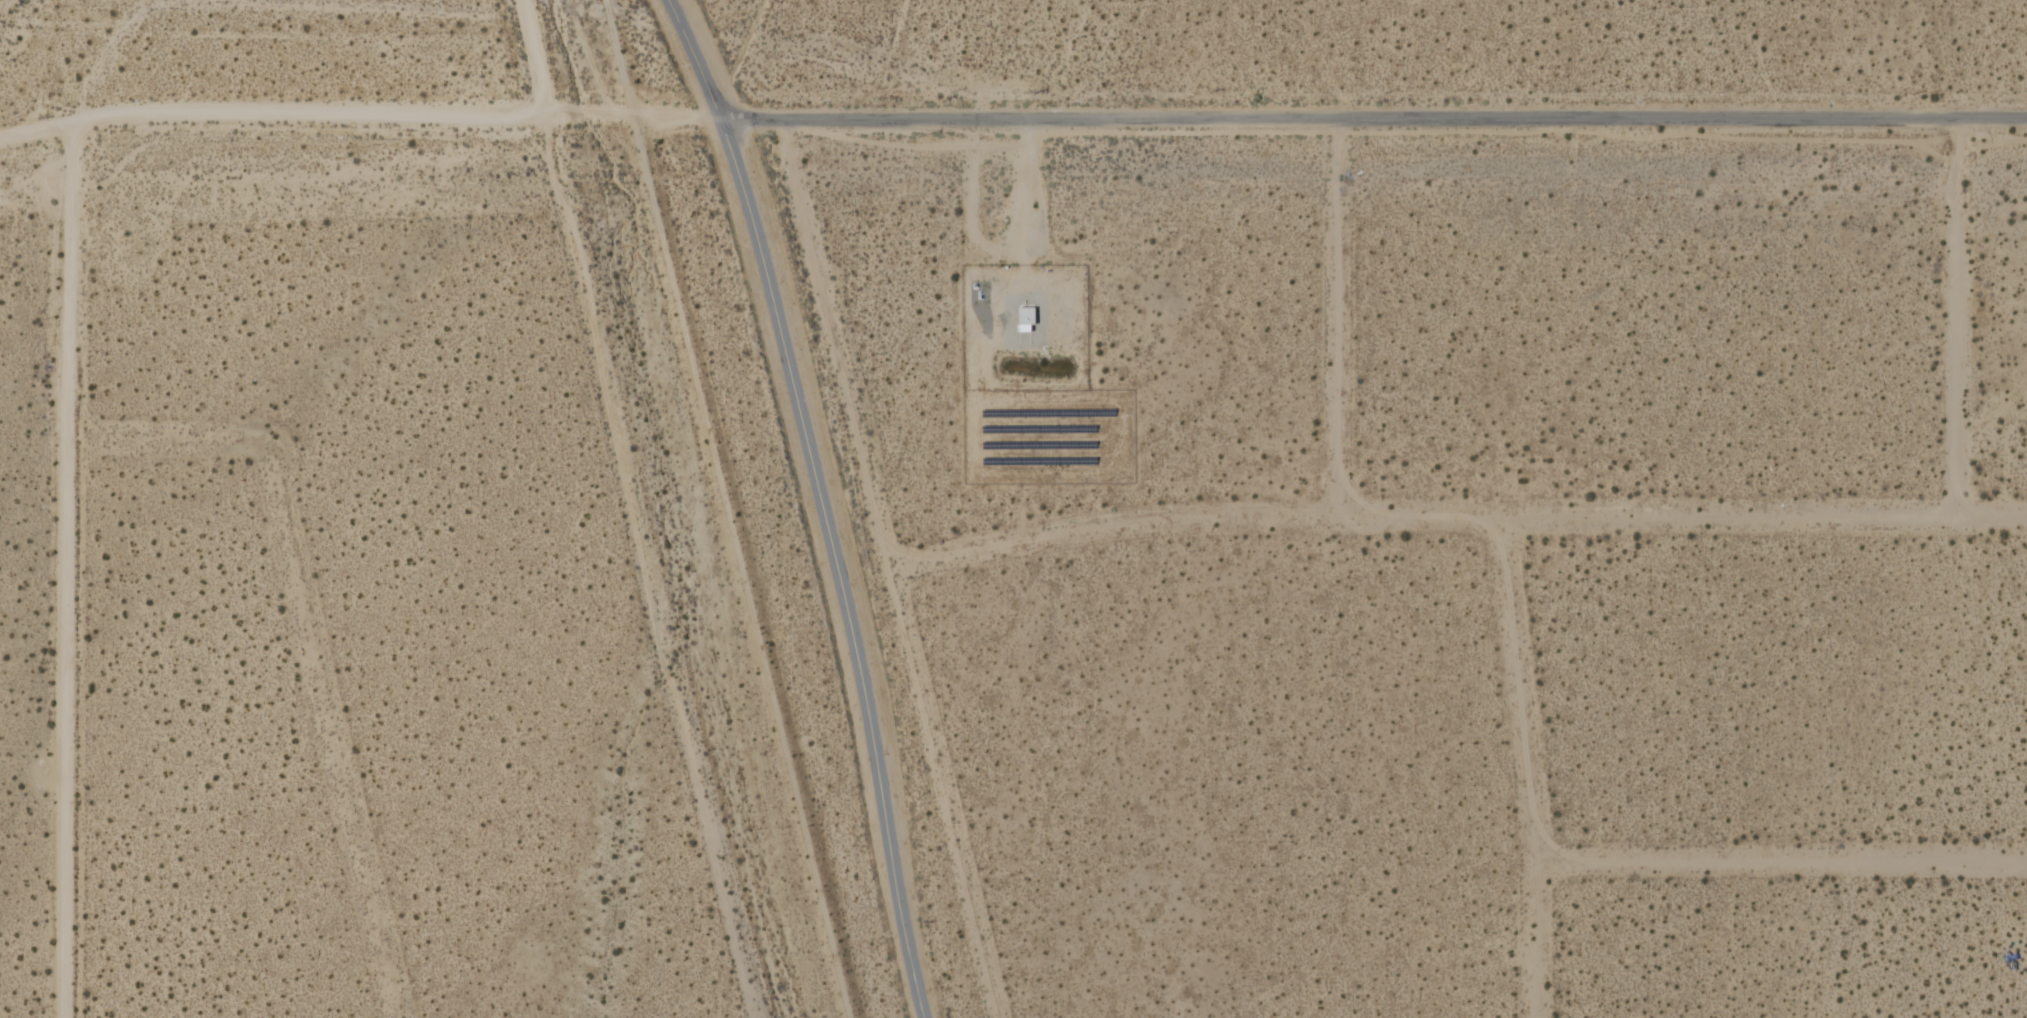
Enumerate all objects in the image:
road: (533, 55)
road: (360, 115)
road: (1374, 119)
road: (1333, 313)
road: (1955, 319)
building: (1026, 320)
solar farm: (1048, 436)
road: (168, 437)
road: (823, 502)
road: (1456, 514)
road: (646, 565)
road: (68, 568)
road: (891, 570)
road: (335, 728)
road: (1525, 766)
road: (1782, 861)

